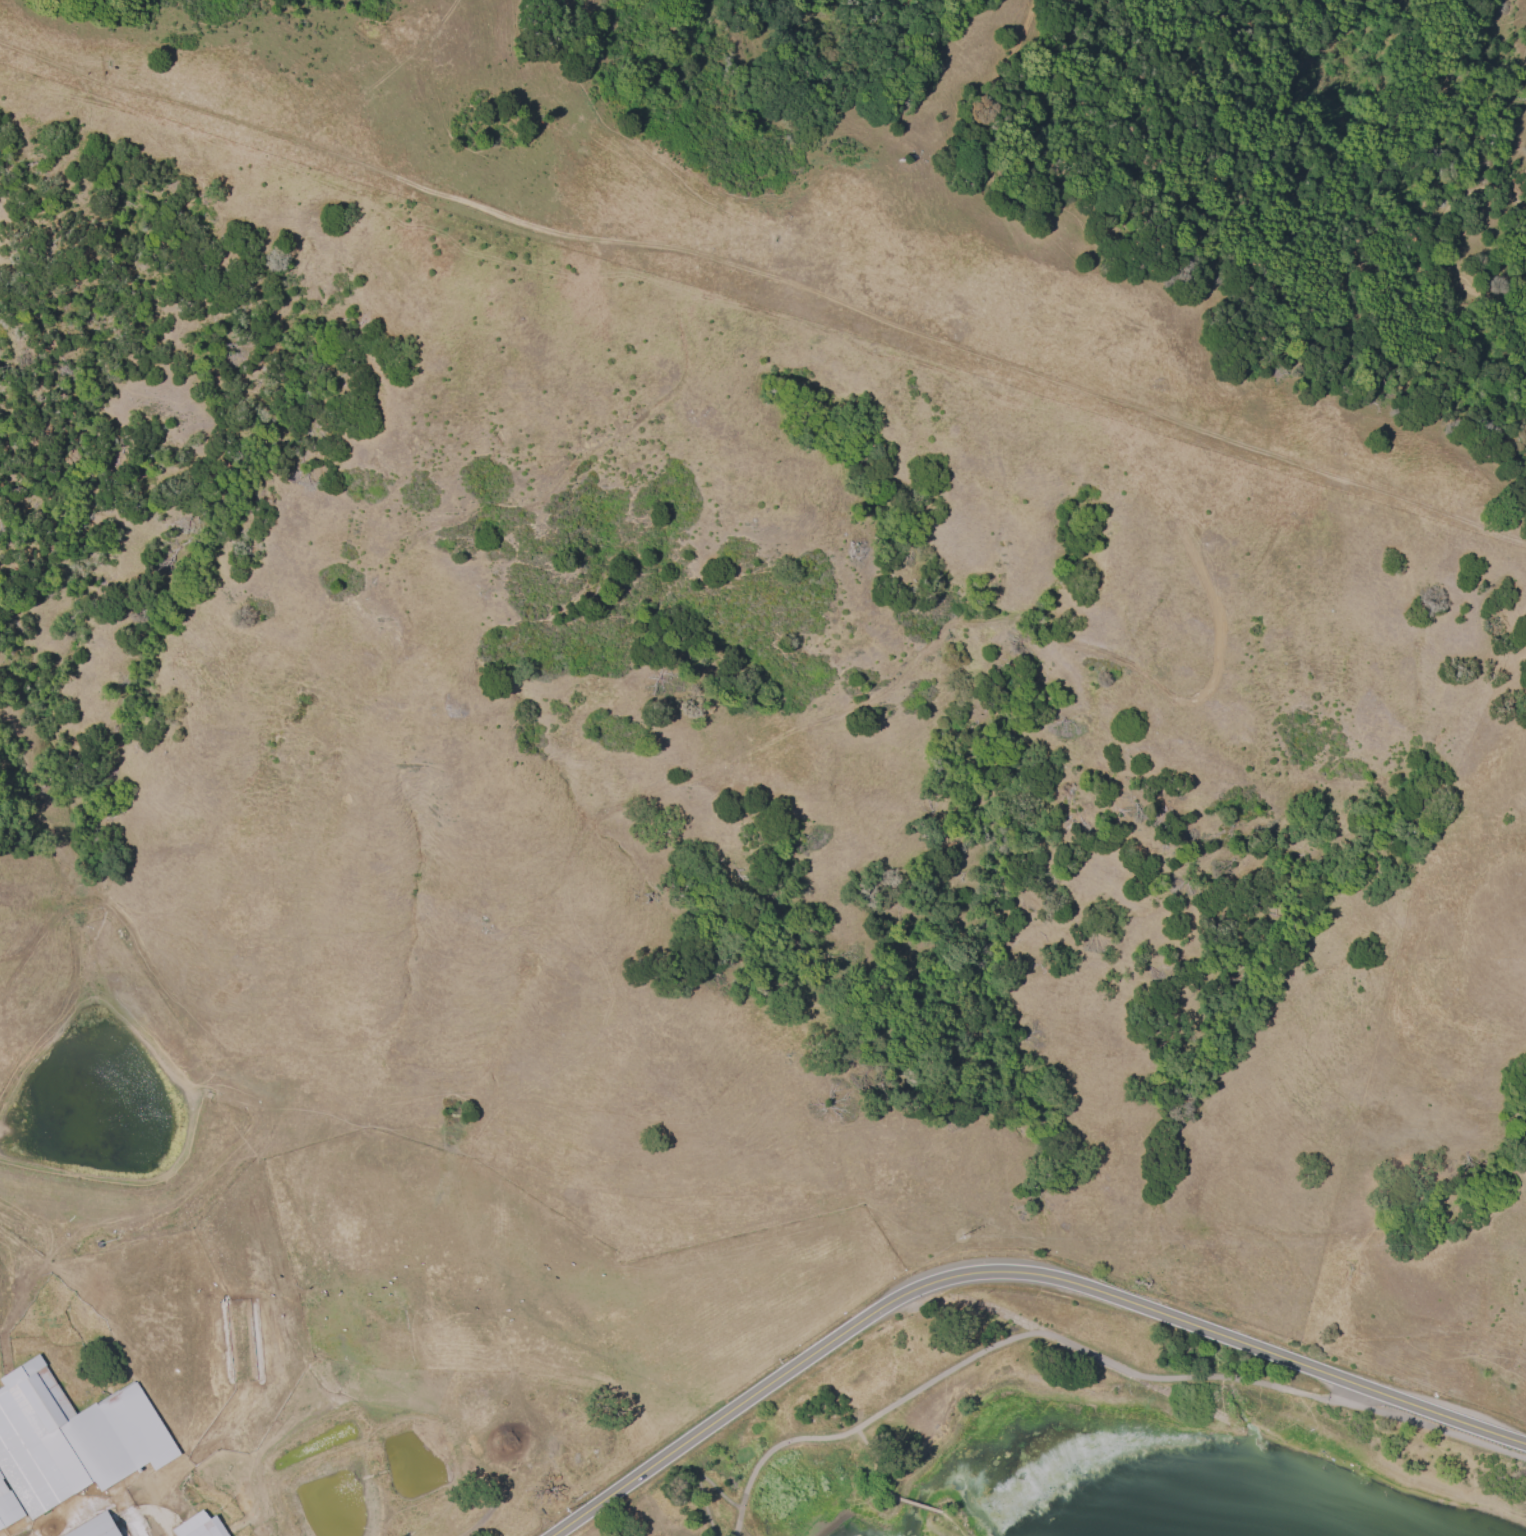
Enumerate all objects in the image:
road: (1017, 1272)
road: (1014, 1338)
building: (68, 1439)
building: (199, 1526)
building: (94, 1527)

